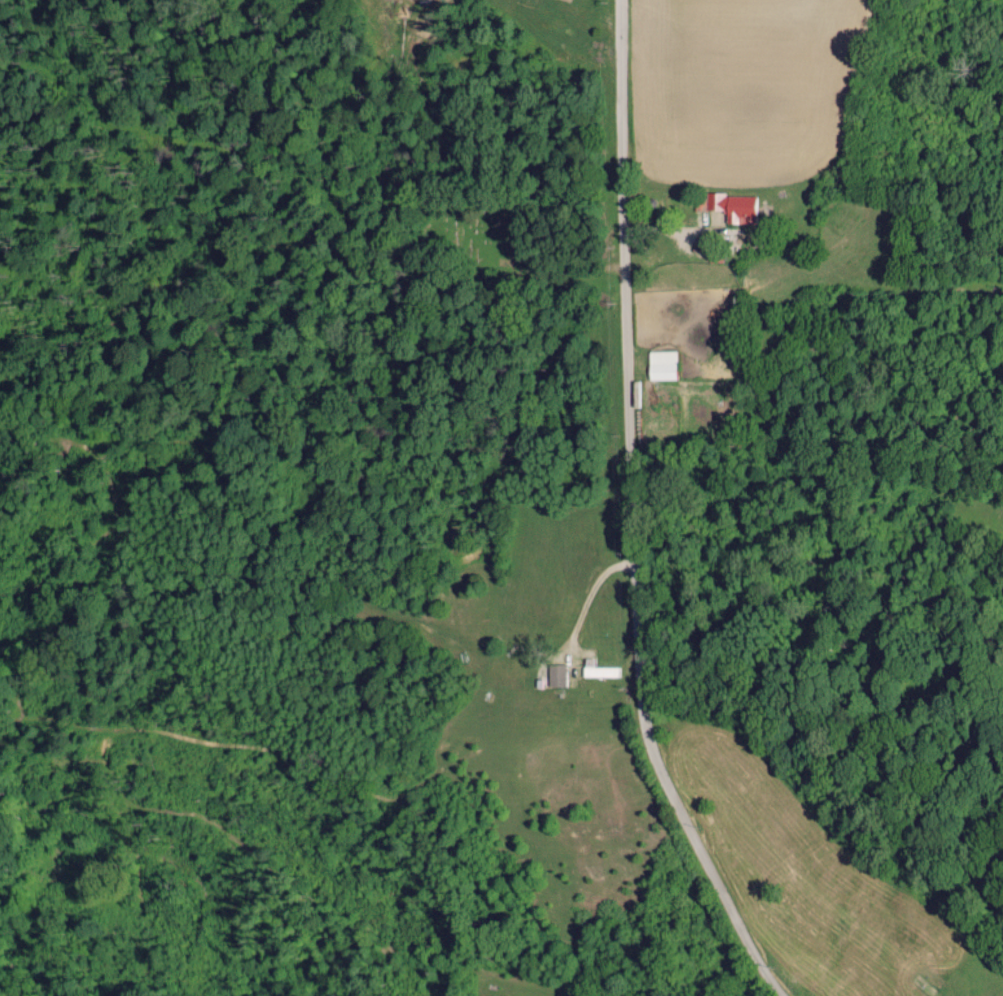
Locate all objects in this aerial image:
building: (728, 205)
building: (660, 364)
road: (628, 515)
building: (555, 674)

